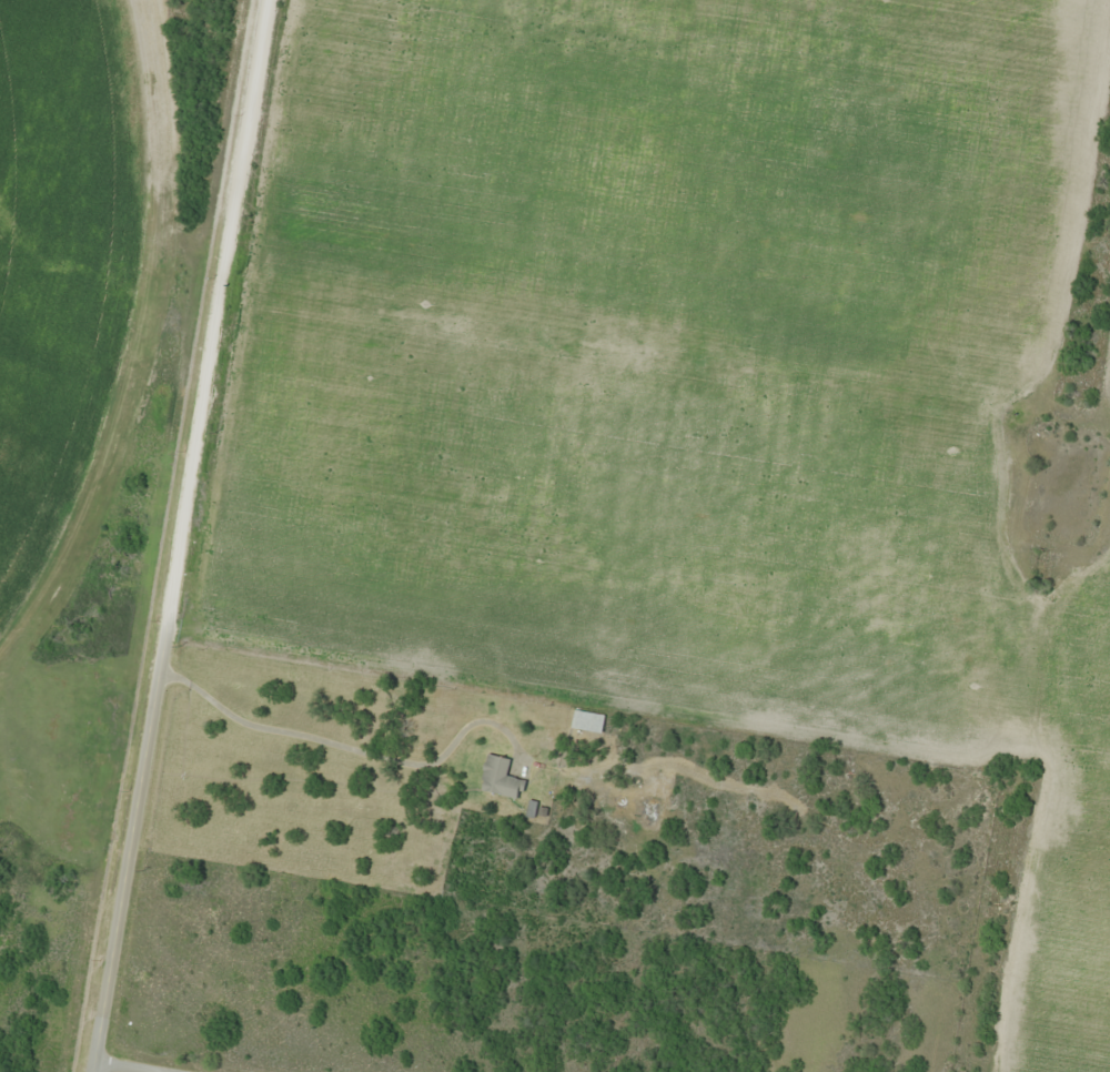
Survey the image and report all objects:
road: (458, 61)
road: (568, 378)
road: (190, 534)
building: (501, 778)
road: (122, 1069)

